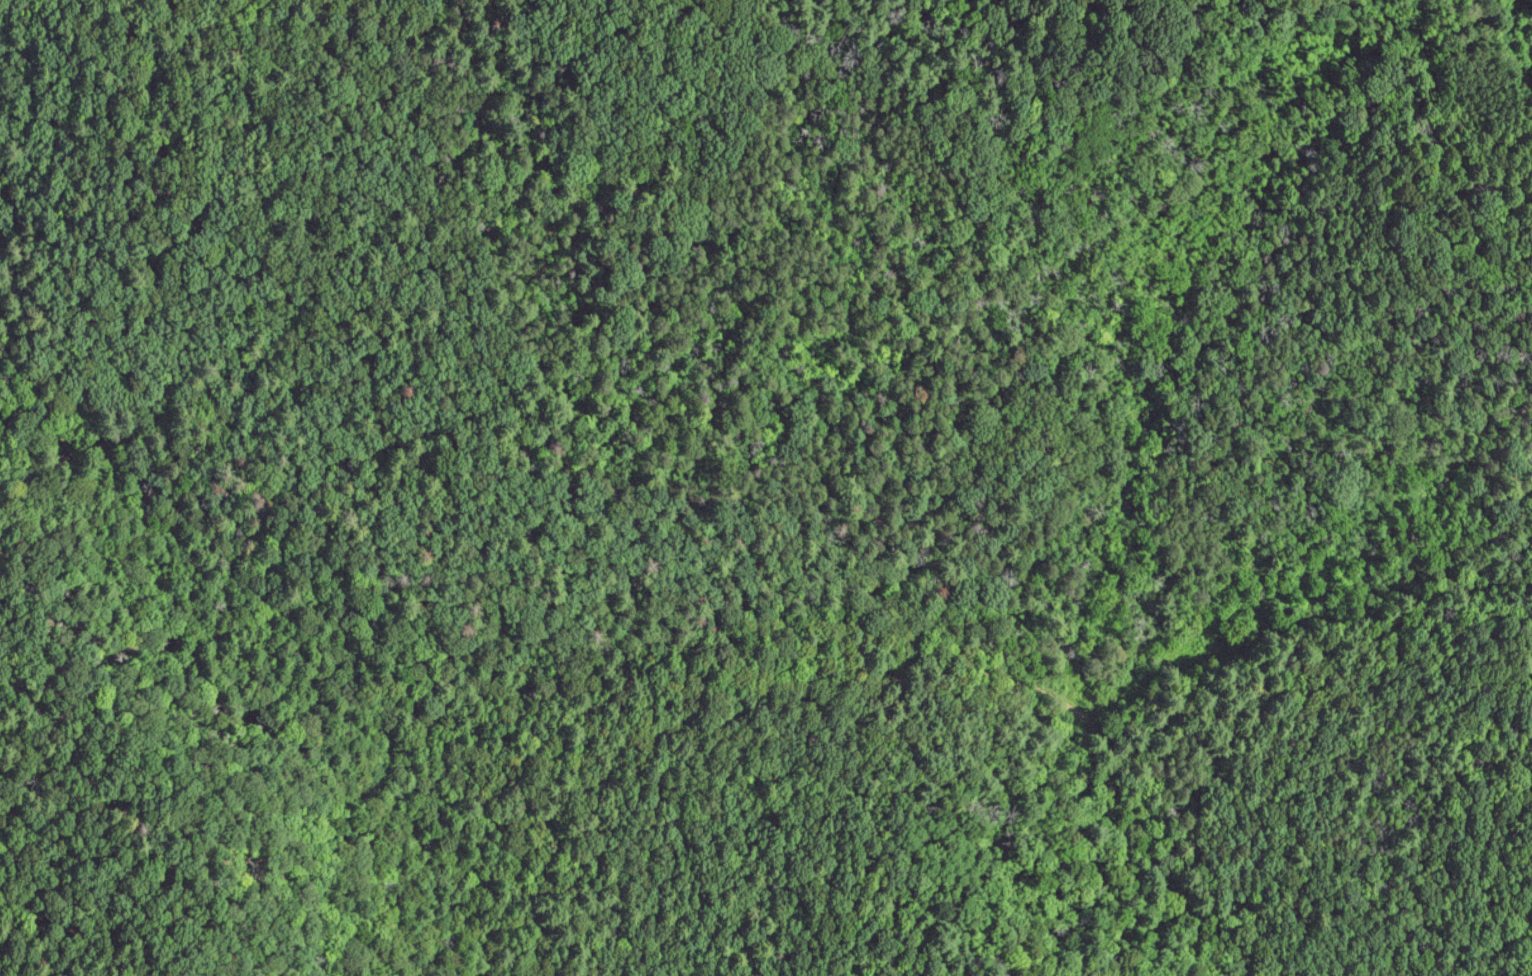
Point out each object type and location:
road: (1175, 833)

